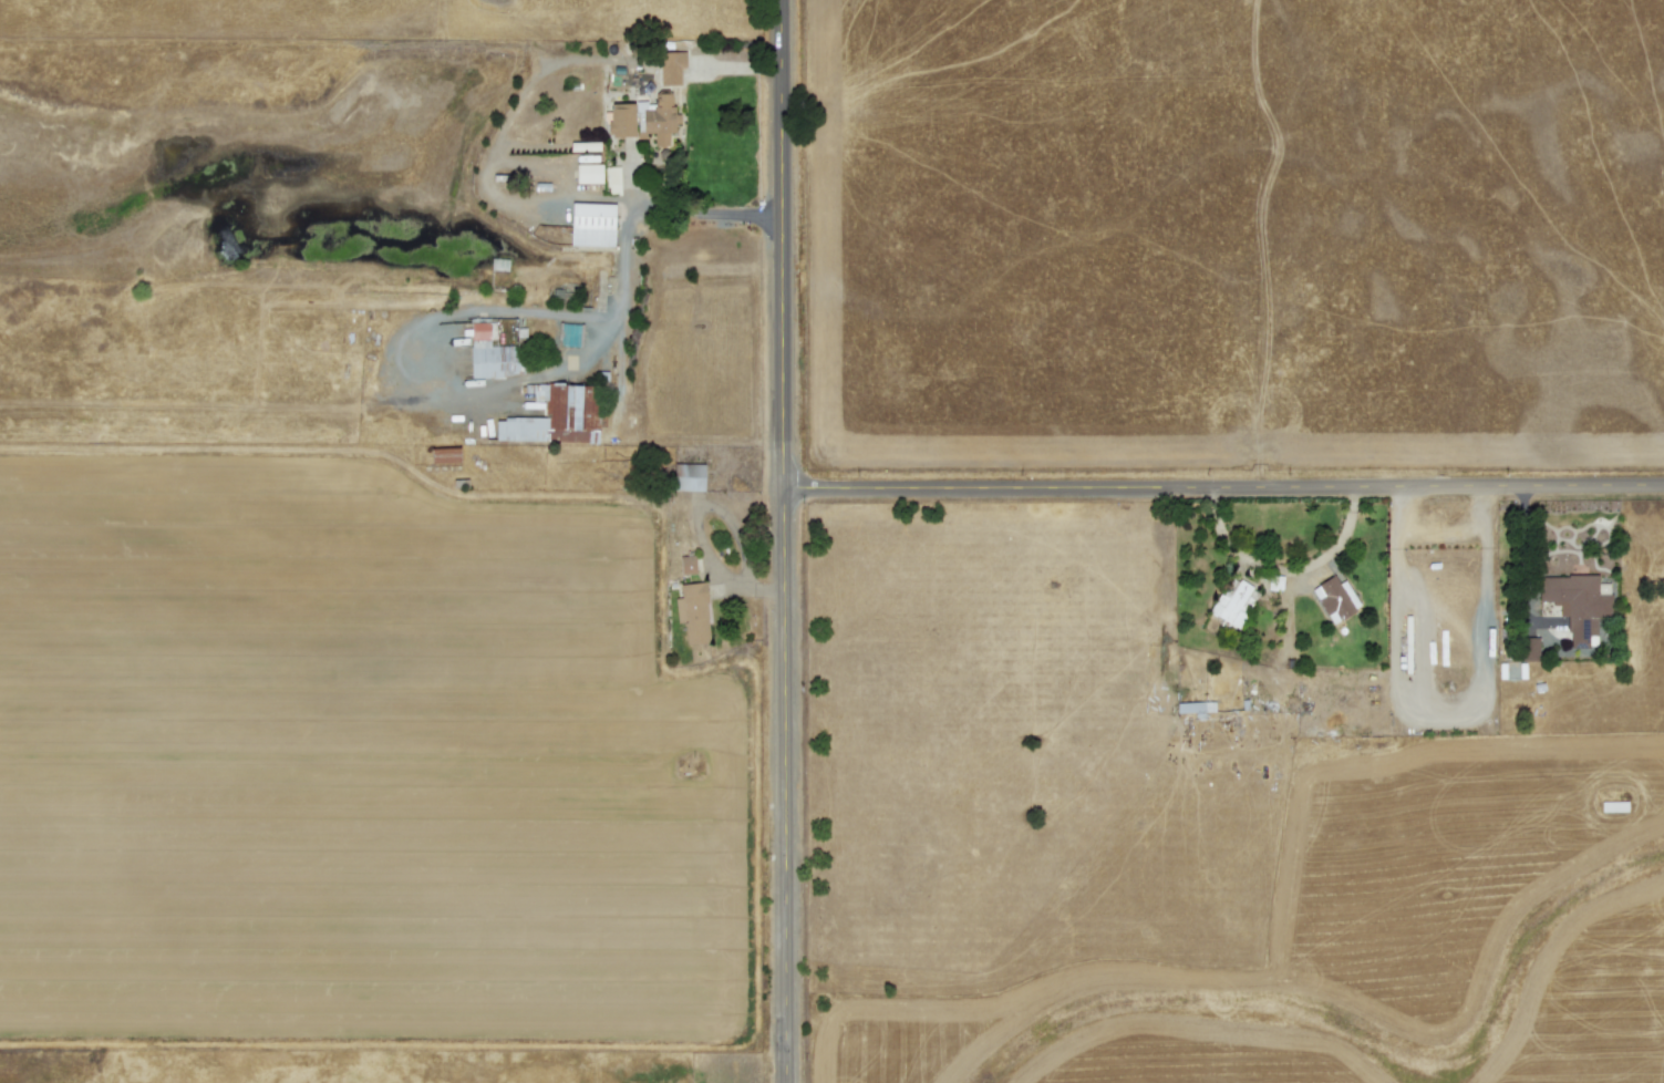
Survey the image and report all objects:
building: (671, 65)
building: (643, 116)
building: (588, 172)
building: (611, 178)
building: (591, 223)
building: (490, 352)
road: (538, 373)
building: (556, 415)
building: (444, 454)
building: (689, 476)
road: (1224, 487)
road: (1484, 504)
road: (1397, 507)
road: (1440, 535)
road: (786, 541)
building: (686, 563)
building: (1334, 597)
building: (1575, 602)
building: (693, 611)
building: (1529, 648)
road: (1447, 713)
crop: (751, 796)

